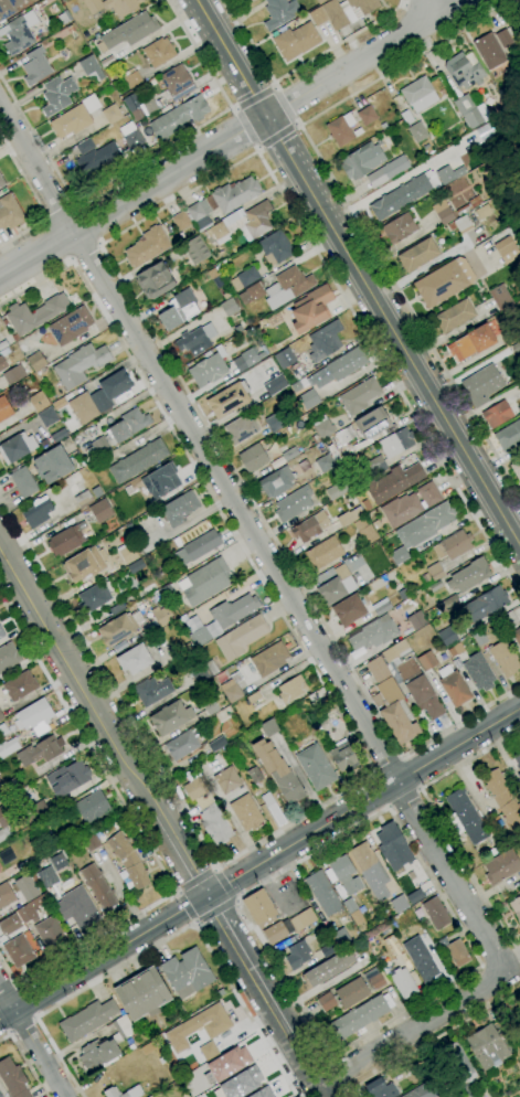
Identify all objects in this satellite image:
building: (250, 0)
building: (320, 1)
building: (113, 6)
building: (9, 8)
road: (431, 9)
building: (348, 11)
building: (278, 12)
building: (318, 15)
building: (63, 19)
building: (70, 29)
building: (128, 32)
building: (19, 33)
building: (502, 38)
building: (296, 41)
building: (488, 51)
building: (158, 52)
building: (35, 66)
road: (297, 68)
building: (91, 70)
building: (464, 70)
building: (131, 77)
building: (176, 83)
building: (57, 95)
building: (418, 95)
road: (252, 96)
building: (91, 104)
road: (287, 105)
building: (139, 108)
building: (468, 110)
building: (112, 114)
building: (367, 115)
building: (178, 117)
building: (71, 121)
building: (383, 126)
building: (340, 129)
road: (244, 130)
building: (416, 131)
road: (234, 137)
road: (278, 139)
building: (106, 152)
road: (146, 159)
building: (361, 160)
building: (386, 171)
building: (447, 174)
road: (393, 181)
building: (1, 183)
building: (403, 194)
building: (225, 199)
road: (34, 200)
building: (469, 204)
road: (55, 211)
building: (10, 212)
road: (352, 212)
building: (443, 212)
building: (482, 212)
building: (181, 221)
road: (86, 224)
building: (460, 224)
building: (238, 225)
building: (399, 228)
road: (55, 241)
building: (148, 246)
building: (275, 247)
building: (505, 247)
building: (195, 251)
road: (86, 254)
building: (417, 255)
road: (109, 262)
road: (359, 273)
building: (215, 277)
building: (244, 278)
building: (155, 280)
building: (444, 281)
building: (287, 287)
building: (251, 294)
building: (500, 297)
building: (229, 307)
building: (310, 309)
building: (34, 313)
building: (454, 316)
building: (168, 319)
building: (70, 326)
building: (195, 338)
building: (323, 340)
building: (508, 340)
building: (473, 342)
building: (283, 358)
building: (247, 359)
building: (35, 361)
building: (2, 363)
building: (79, 364)
building: (340, 368)
building: (206, 370)
building: (13, 374)
building: (274, 384)
building: (298, 384)
building: (518, 384)
building: (481, 385)
building: (359, 396)
building: (98, 397)
building: (227, 400)
building: (308, 400)
building: (36, 401)
building: (59, 404)
building: (4, 409)
building: (500, 412)
building: (45, 416)
building: (272, 422)
building: (371, 423)
building: (240, 429)
building: (323, 429)
building: (116, 434)
building: (344, 436)
building: (508, 436)
building: (315, 439)
building: (395, 441)
building: (17, 447)
building: (319, 448)
building: (289, 454)
building: (252, 458)
building: (138, 460)
building: (325, 462)
building: (52, 465)
building: (378, 465)
building: (516, 469)
building: (160, 481)
building: (23, 482)
building: (276, 482)
building: (393, 482)
building: (336, 490)
building: (83, 499)
building: (293, 503)
building: (365, 504)
building: (408, 505)
building: (179, 509)
building: (38, 511)
building: (99, 511)
building: (425, 524)
building: (358, 525)
building: (310, 526)
building: (66, 539)
road: (255, 540)
building: (202, 545)
building: (453, 545)
building: (322, 553)
building: (128, 554)
building: (399, 555)
building: (85, 564)
building: (134, 567)
building: (432, 573)
building: (468, 576)
building: (204, 582)
building: (336, 586)
building: (435, 586)
building: (167, 590)
building: (402, 594)
building: (94, 597)
building: (450, 604)
building: (482, 605)
building: (382, 608)
building: (233, 610)
building: (348, 610)
building: (162, 616)
building: (416, 620)
building: (508, 620)
building: (119, 628)
building: (1, 633)
building: (373, 635)
building: (445, 636)
building: (199, 637)
building: (241, 637)
building: (481, 637)
building: (517, 637)
building: (119, 646)
building: (455, 649)
building: (395, 651)
building: (9, 657)
building: (503, 658)
building: (268, 659)
building: (134, 660)
building: (427, 663)
building: (211, 668)
building: (376, 670)
building: (478, 672)
building: (201, 673)
building: (235, 678)
road: (79, 682)
building: (19, 686)
building: (454, 686)
building: (291, 689)
building: (418, 689)
building: (152, 691)
building: (232, 693)
building: (252, 697)
building: (210, 707)
building: (394, 712)
building: (34, 714)
building: (1, 715)
building: (222, 716)
building: (0, 717)
building: (170, 717)
building: (316, 721)
building: (268, 727)
road: (354, 742)
building: (183, 744)
building: (217, 744)
building: (8, 747)
building: (40, 750)
building: (343, 756)
road: (399, 757)
road: (469, 759)
building: (517, 759)
road: (386, 765)
building: (315, 766)
building: (278, 771)
road: (374, 773)
building: (254, 775)
building: (66, 778)
building: (226, 779)
building: (10, 782)
road: (417, 790)
building: (26, 797)
building: (501, 797)
road: (403, 798)
road: (362, 801)
building: (92, 807)
road: (390, 807)
building: (273, 809)
building: (36, 811)
building: (208, 811)
building: (246, 812)
building: (7, 814)
building: (465, 817)
building: (3, 834)
road: (141, 837)
building: (89, 842)
building: (392, 846)
road: (181, 856)
building: (57, 861)
building: (128, 861)
building: (500, 866)
road: (213, 869)
building: (369, 870)
road: (469, 873)
building: (344, 875)
building: (46, 876)
road: (195, 880)
road: (224, 885)
building: (26, 887)
building: (97, 887)
road: (176, 891)
building: (323, 893)
building: (4, 895)
traffic signals: (205, 896)
road: (238, 899)
road: (235, 901)
building: (397, 904)
road: (184, 906)
building: (350, 906)
building: (76, 907)
building: (32, 908)
building: (259, 908)
building: (516, 908)
road: (214, 910)
building: (434, 913)
building: (355, 918)
building: (303, 919)
road: (195, 923)
building: (3, 926)
building: (49, 930)
building: (277, 931)
building: (339, 937)
road: (160, 942)
building: (392, 947)
building: (327, 950)
building: (18, 951)
building: (454, 951)
building: (297, 955)
road: (102, 956)
building: (421, 960)
road: (246, 967)
building: (327, 968)
building: (187, 972)
building: (374, 979)
building: (403, 982)
road: (17, 987)
road: (8, 992)
building: (220, 992)
building: (350, 993)
building: (142, 994)
building: (326, 1002)
road: (24, 1003)
road: (33, 1019)
building: (87, 1019)
building: (357, 1019)
road: (4, 1023)
road: (20, 1024)
building: (199, 1026)
road: (413, 1031)
road: (10, 1032)
road: (436, 1037)
road: (32, 1042)
building: (486, 1046)
building: (104, 1047)
building: (147, 1048)
building: (208, 1051)
road: (332, 1058)
road: (25, 1061)
building: (229, 1063)
building: (457, 1063)
road: (305, 1067)
road: (340, 1072)
building: (12, 1079)
building: (241, 1083)
road: (349, 1086)
building: (379, 1088)
building: (134, 1090)
building: (262, 1093)
road: (350, 1093)
building: (416, 1093)
building: (0, 1096)

